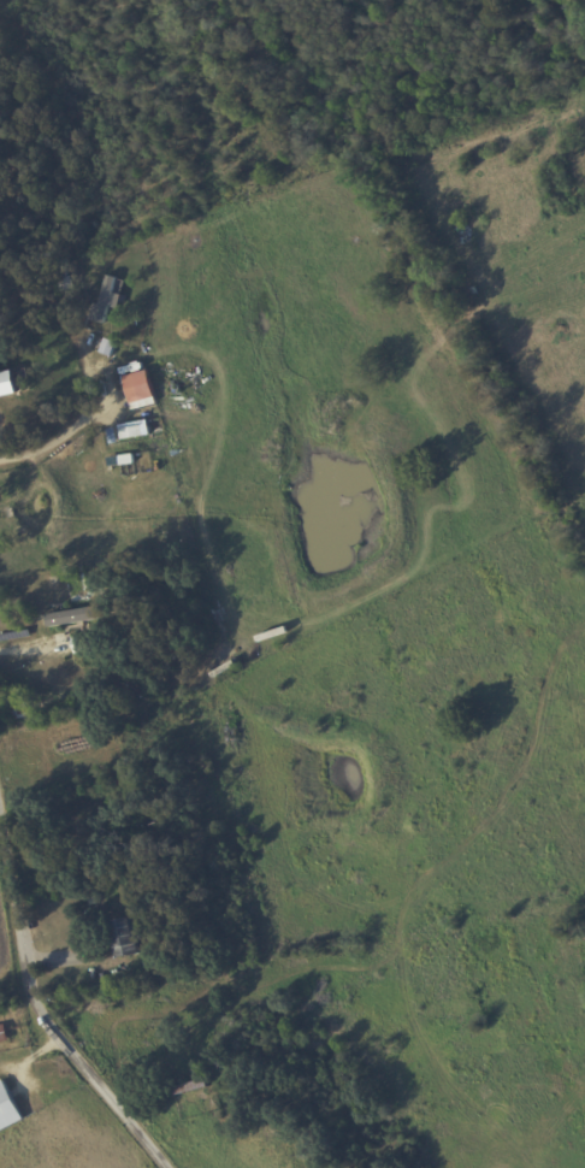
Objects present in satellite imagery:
building: (107, 297)
building: (106, 347)
building: (6, 384)
building: (137, 388)
road: (84, 425)
building: (130, 430)
building: (72, 615)
building: (122, 937)
road: (37, 1009)
building: (2, 1033)
building: (7, 1109)

